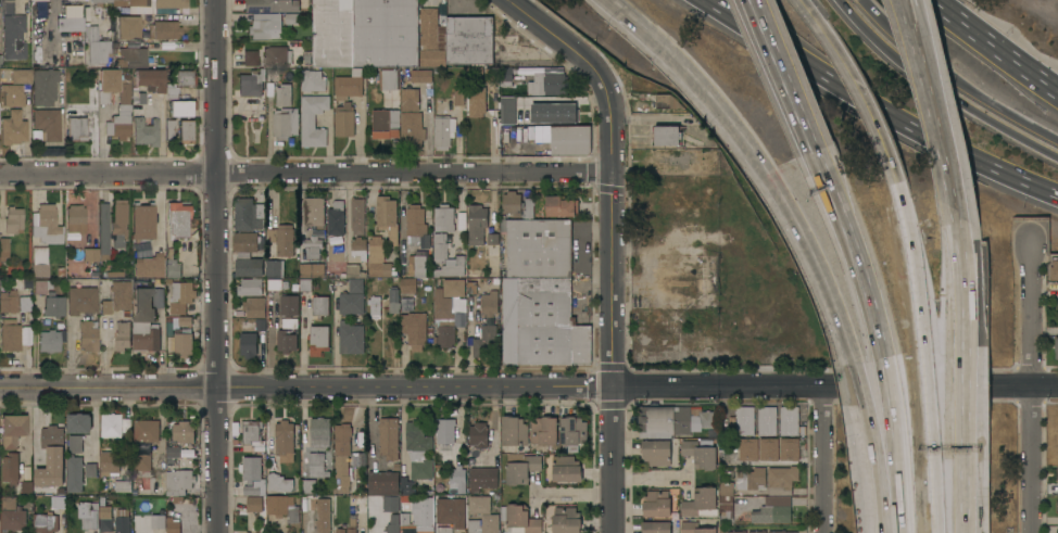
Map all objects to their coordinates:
road: (85, 0)
building: (32, 1)
building: (98, 2)
road: (842, 2)
building: (151, 4)
building: (272, 5)
building: (7, 7)
building: (70, 18)
building: (290, 18)
building: (265, 26)
building: (167, 28)
building: (431, 29)
building: (332, 33)
building: (385, 33)
building: (14, 36)
building: (469, 40)
building: (97, 46)
road: (995, 46)
building: (277, 55)
building: (133, 56)
building: (245, 58)
building: (432, 58)
building: (0, 60)
building: (474, 72)
road: (791, 74)
building: (22, 75)
building: (420, 75)
building: (491, 75)
building: (505, 76)
building: (186, 77)
building: (150, 79)
building: (390, 79)
road: (953, 79)
building: (312, 80)
road: (853, 80)
building: (251, 83)
building: (108, 84)
building: (546, 84)
building: (349, 85)
building: (43, 86)
road: (943, 91)
building: (172, 92)
building: (12, 94)
building: (138, 94)
building: (284, 94)
building: (458, 96)
building: (410, 98)
building: (476, 101)
building: (667, 101)
road: (878, 105)
building: (181, 107)
building: (505, 110)
building: (121, 111)
building: (539, 114)
road: (936, 114)
building: (313, 119)
building: (344, 119)
building: (47, 123)
building: (285, 123)
building: (385, 123)
building: (13, 127)
building: (77, 128)
building: (169, 128)
building: (411, 128)
building: (443, 130)
building: (146, 131)
building: (186, 131)
building: (667, 135)
building: (570, 140)
road: (768, 153)
building: (669, 160)
building: (709, 166)
road: (612, 170)
road: (306, 173)
road: (215, 193)
building: (512, 203)
building: (561, 206)
building: (529, 210)
building: (314, 211)
building: (383, 211)
building: (249, 214)
building: (357, 215)
building: (443, 217)
building: (178, 218)
building: (336, 218)
building: (13, 219)
building: (118, 219)
building: (75, 220)
building: (142, 220)
building: (47, 224)
building: (415, 224)
building: (477, 224)
building: (103, 230)
building: (281, 239)
building: (245, 241)
building: (313, 246)
building: (538, 246)
building: (3, 248)
building: (358, 248)
building: (440, 248)
road: (859, 249)
building: (141, 250)
building: (493, 250)
building: (90, 253)
building: (377, 257)
road: (916, 257)
building: (39, 261)
building: (418, 264)
building: (150, 267)
building: (249, 267)
building: (452, 267)
building: (173, 268)
building: (274, 268)
building: (312, 269)
building: (1054, 269)
building: (353, 271)
building: (276, 283)
building: (305, 284)
building: (407, 284)
building: (471, 284)
building: (42, 285)
building: (250, 287)
building: (453, 288)
road: (959, 289)
building: (1057, 294)
building: (181, 296)
building: (117, 297)
building: (352, 297)
building: (81, 300)
building: (9, 301)
building: (392, 301)
building: (406, 302)
building: (25, 303)
building: (489, 303)
building: (53, 305)
building: (319, 305)
building: (374, 305)
building: (254, 306)
building: (289, 309)
building: (448, 317)
building: (144, 321)
building: (185, 321)
building: (542, 322)
building: (414, 329)
road: (1045, 332)
building: (10, 334)
building: (123, 334)
building: (86, 337)
building: (351, 337)
building: (318, 339)
building: (482, 339)
building: (49, 340)
building: (286, 341)
building: (182, 342)
building: (249, 344)
building: (1056, 347)
road: (958, 380)
road: (894, 381)
road: (931, 381)
road: (864, 382)
road: (1033, 384)
road: (835, 385)
road: (415, 386)
road: (108, 388)
building: (664, 419)
building: (707, 419)
building: (745, 420)
building: (766, 420)
building: (789, 420)
building: (78, 422)
building: (114, 424)
building: (12, 429)
building: (147, 430)
building: (320, 431)
building: (514, 431)
building: (544, 431)
building: (572, 431)
building: (184, 432)
building: (479, 434)
building: (252, 436)
building: (388, 437)
building: (284, 439)
building: (445, 439)
building: (75, 444)
building: (747, 448)
building: (768, 448)
building: (789, 448)
building: (418, 450)
building: (656, 452)
building: (173, 453)
building: (700, 454)
building: (342, 455)
building: (51, 456)
building: (473, 456)
building: (142, 458)
building: (358, 459)
road: (614, 459)
road: (823, 459)
road: (216, 460)
building: (109, 462)
building: (317, 465)
building: (520, 467)
building: (566, 468)
building: (91, 469)
road: (905, 471)
road: (878, 472)
road: (939, 472)
road: (956, 472)
building: (1057, 472)
building: (14, 473)
building: (75, 473)
building: (252, 475)
building: (482, 479)
road: (650, 479)
building: (751, 479)
building: (382, 480)
building: (781, 480)
building: (178, 481)
building: (456, 481)
building: (279, 483)
building: (307, 485)
building: (406, 485)
building: (123, 486)
road: (572, 492)
building: (726, 496)
building: (59, 502)
building: (700, 502)
building: (1057, 503)
building: (254, 504)
building: (390, 504)
building: (656, 504)
building: (357, 505)
building: (479, 505)
building: (282, 507)
building: (773, 510)
building: (451, 511)
building: (12, 515)
building: (90, 516)
building: (323, 516)
building: (415, 517)
building: (520, 518)
building: (105, 519)
building: (566, 520)
building: (158, 521)
building: (45, 522)
building: (484, 523)
building: (122, 524)
building: (352, 524)
building: (172, 525)
building: (655, 526)
building: (694, 528)
building: (722, 528)
building: (1056, 529)
building: (340, 531)
building: (757, 531)
building: (781, 531)

